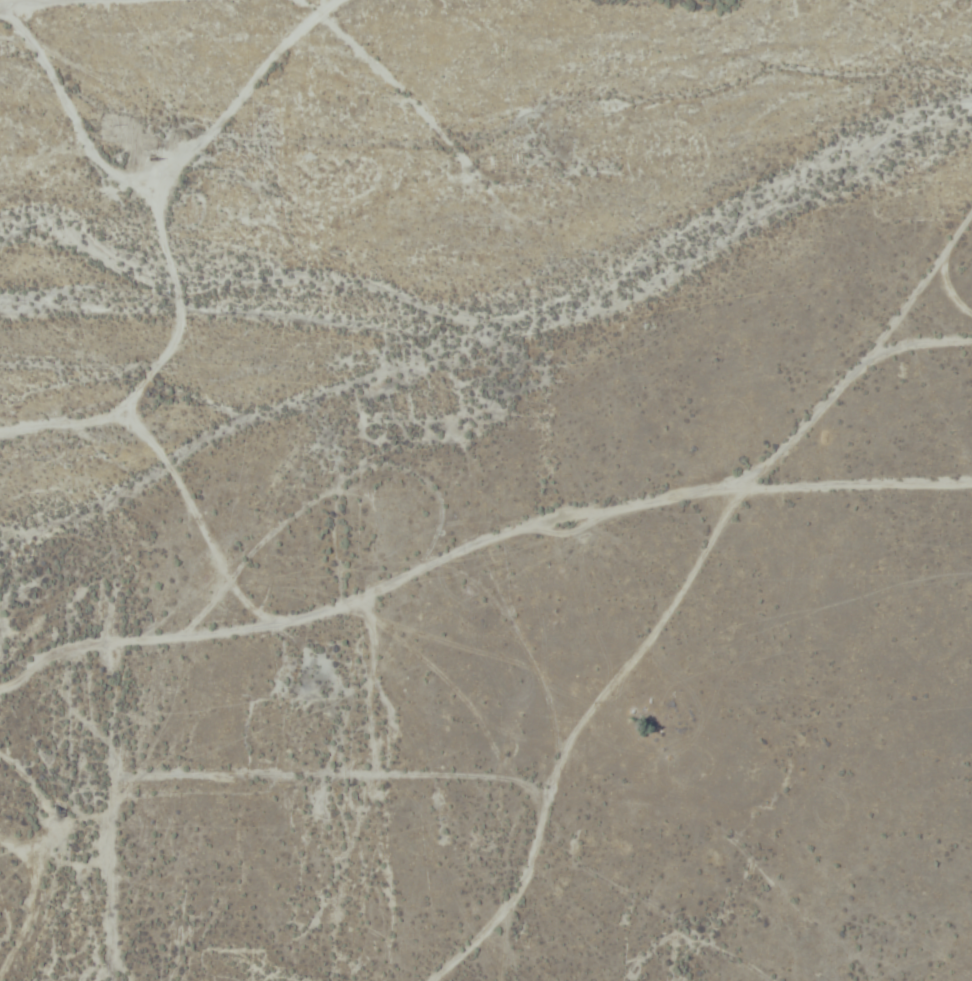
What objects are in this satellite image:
road: (495, 563)

